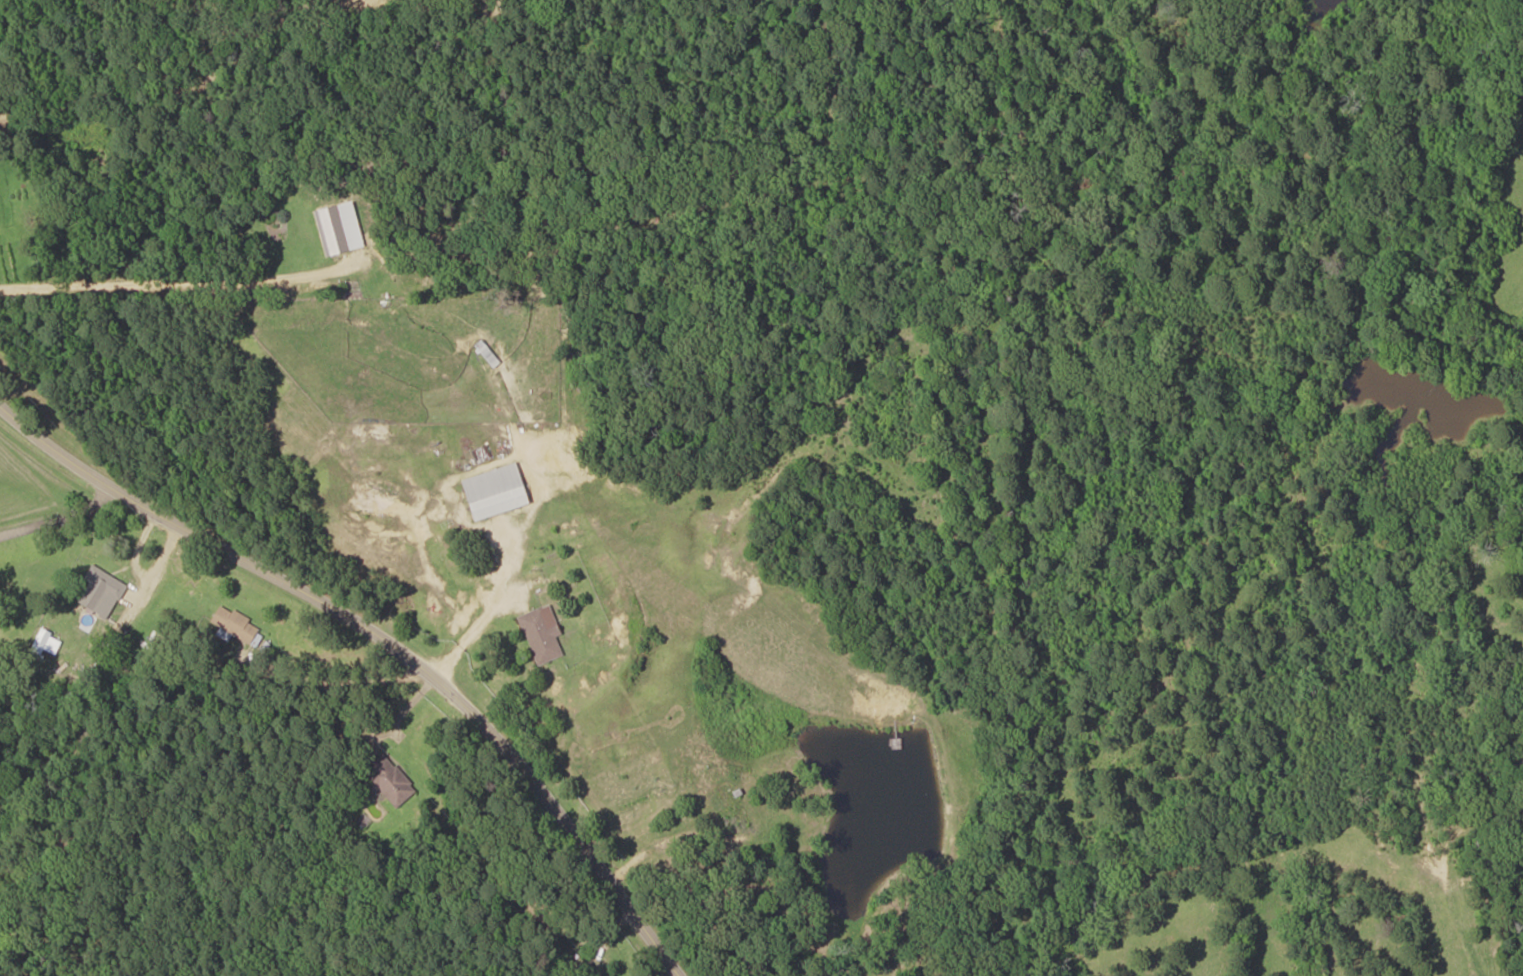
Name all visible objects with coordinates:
building: (329, 234)
building: (488, 354)
building: (497, 492)
building: (102, 592)
building: (236, 624)
road: (394, 630)
building: (543, 633)
building: (46, 644)
building: (390, 780)
building: (735, 804)

